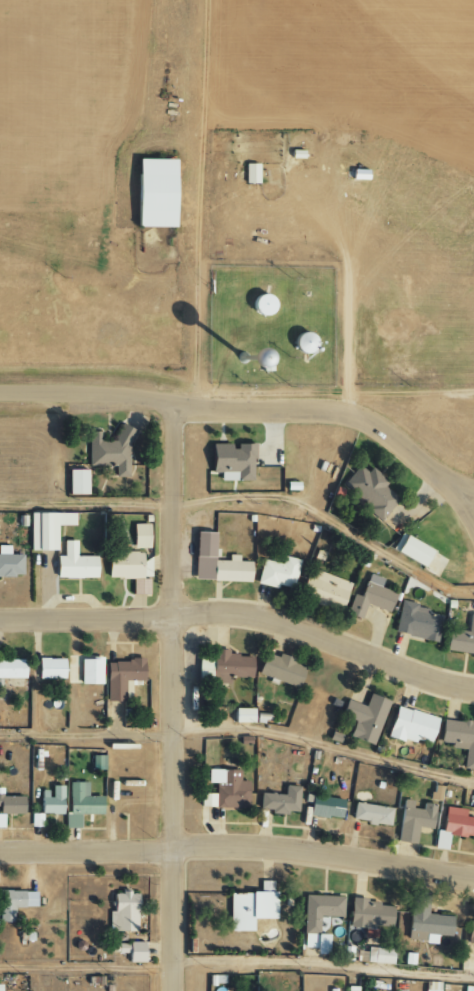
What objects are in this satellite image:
building: (250, 173)
building: (152, 192)
building: (260, 303)
building: (300, 341)
road: (428, 407)
road: (241, 409)
building: (109, 451)
building: (231, 461)
building: (76, 481)
building: (371, 491)
road: (466, 491)
road: (249, 498)
road: (466, 506)
building: (47, 529)
building: (140, 536)
building: (409, 549)
building: (9, 562)
building: (215, 562)
building: (74, 563)
building: (129, 569)
building: (277, 572)
building: (325, 589)
building: (371, 596)
road: (242, 616)
building: (417, 622)
building: (461, 638)
building: (228, 666)
building: (11, 668)
building: (50, 668)
building: (204, 669)
building: (279, 669)
building: (90, 670)
building: (120, 676)
road: (173, 699)
building: (241, 715)
building: (364, 717)
building: (410, 725)
road: (240, 728)
building: (459, 738)
building: (225, 789)
building: (435, 792)
building: (51, 800)
building: (279, 800)
building: (80, 803)
building: (11, 804)
building: (473, 804)
building: (324, 806)
building: (370, 813)
building: (0, 820)
building: (36, 820)
building: (414, 820)
building: (453, 826)
road: (238, 850)
building: (14, 902)
building: (250, 907)
building: (122, 911)
building: (369, 914)
building: (424, 919)
building: (309, 925)
building: (470, 933)
building: (129, 950)
building: (378, 955)
road: (236, 961)
building: (431, 986)

